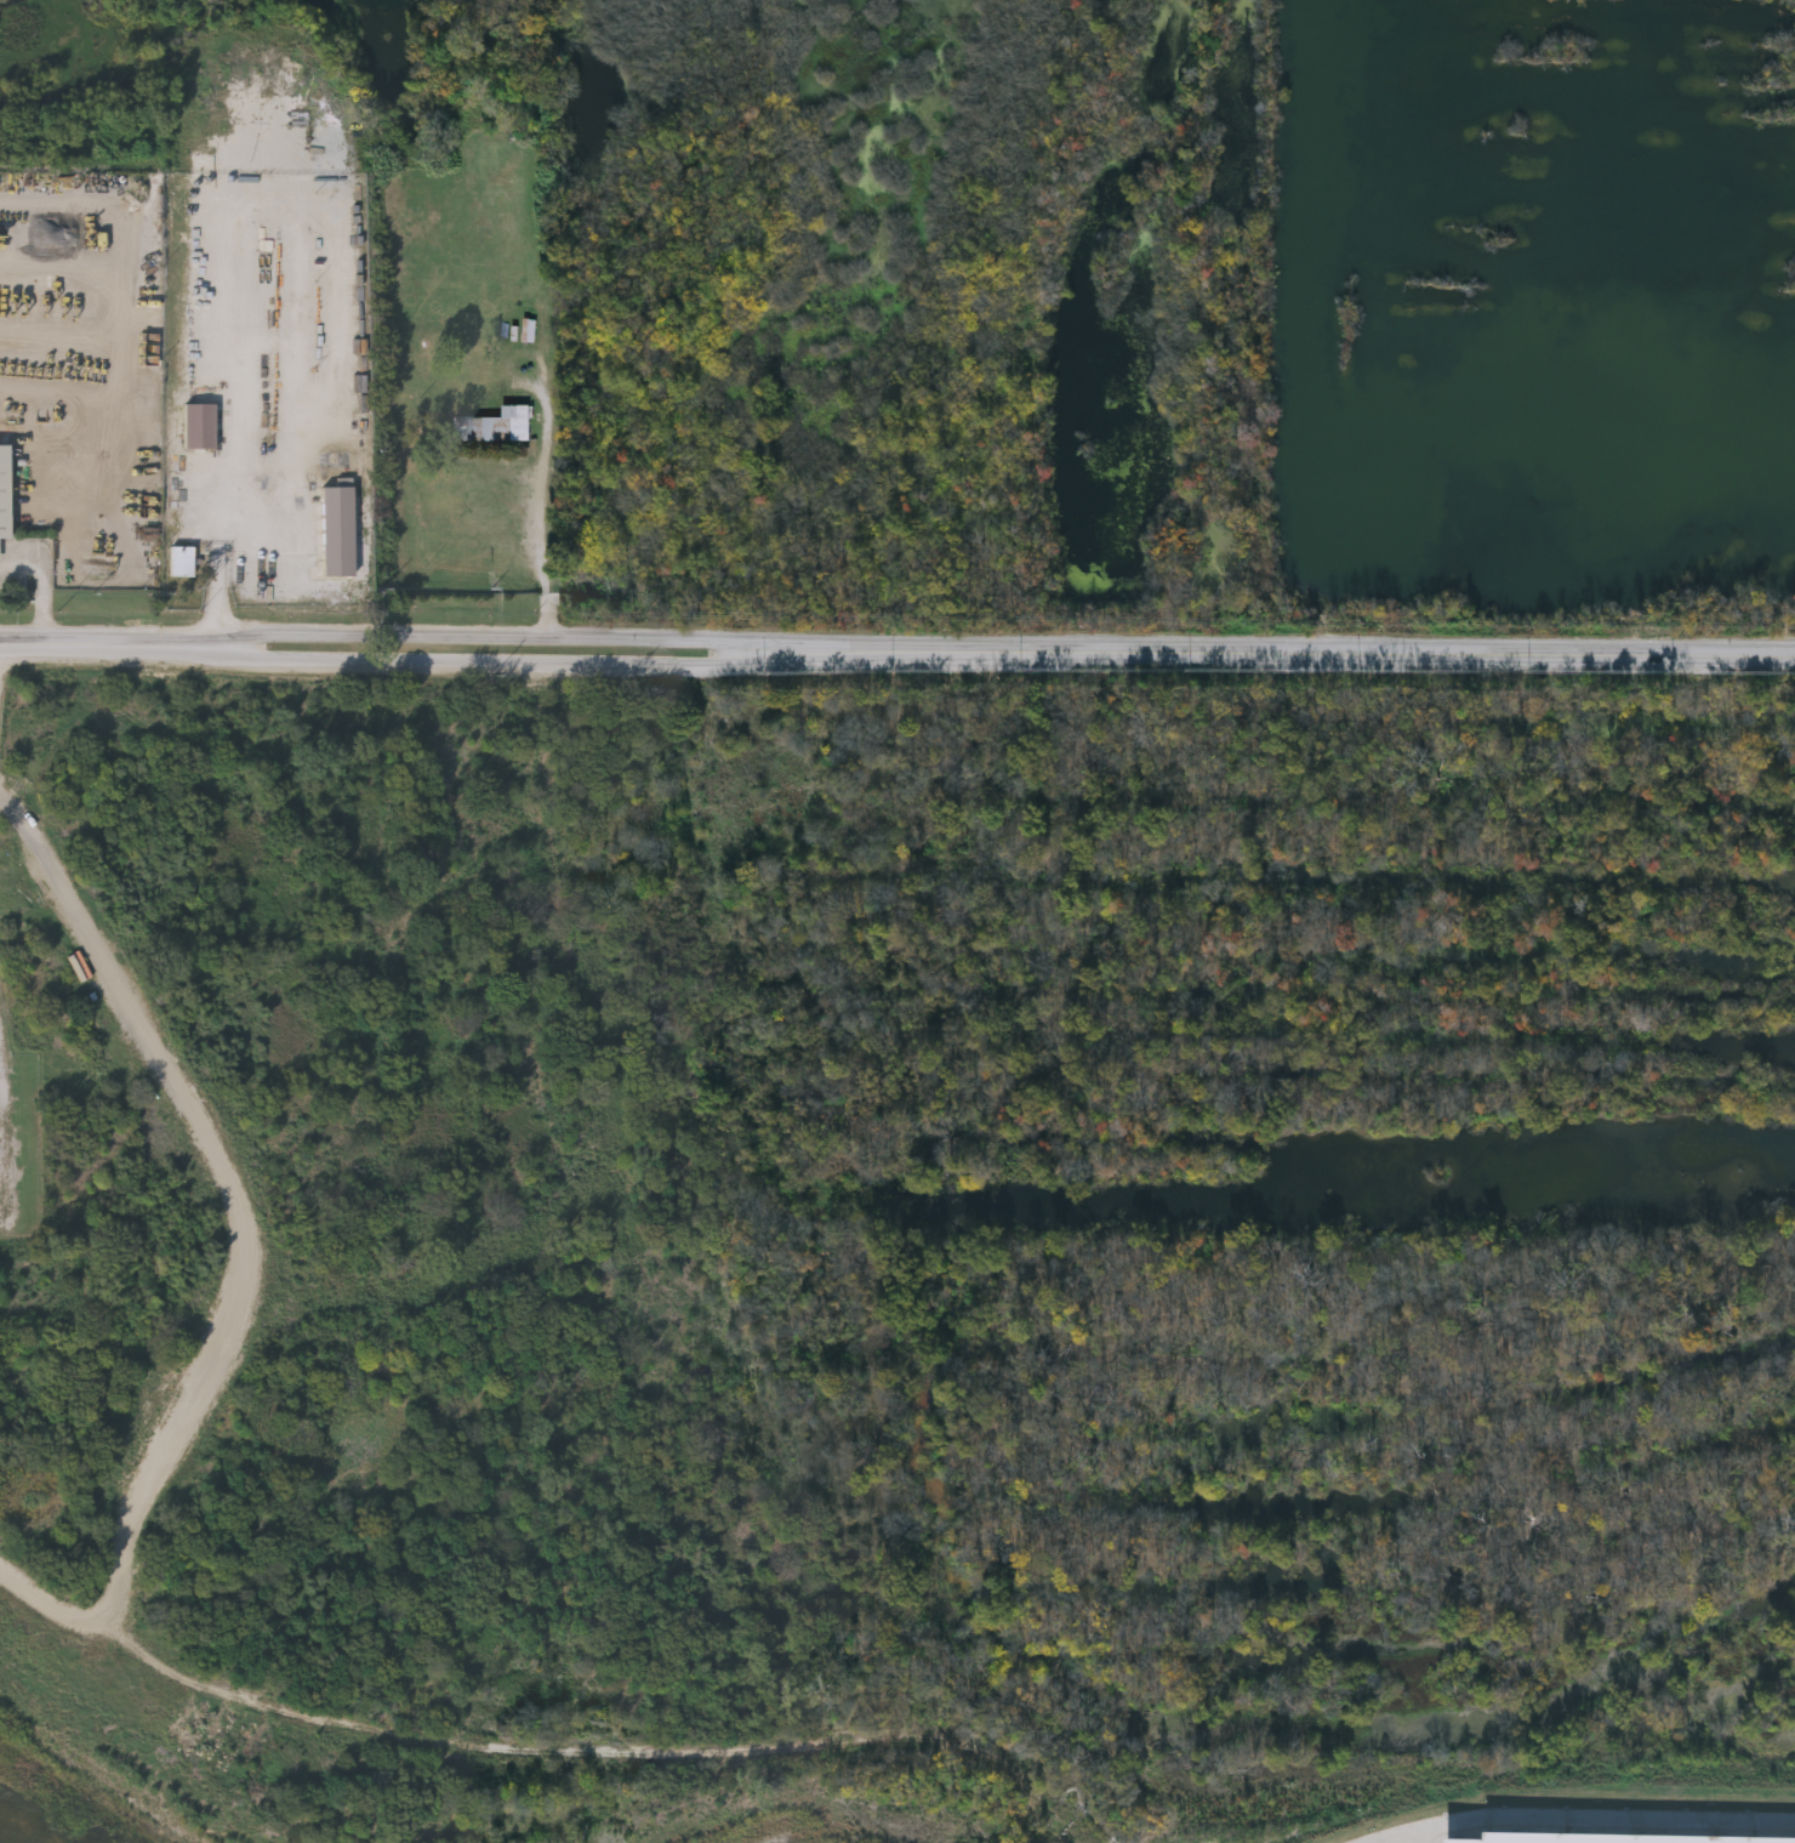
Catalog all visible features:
road: (125, 290)
building: (199, 425)
building: (496, 425)
building: (5, 491)
road: (221, 559)
building: (181, 562)
road: (46, 587)
road: (514, 639)
road: (110, 648)
road: (1301, 656)
road: (514, 664)
road: (1592, 1825)
building: (1618, 1832)

